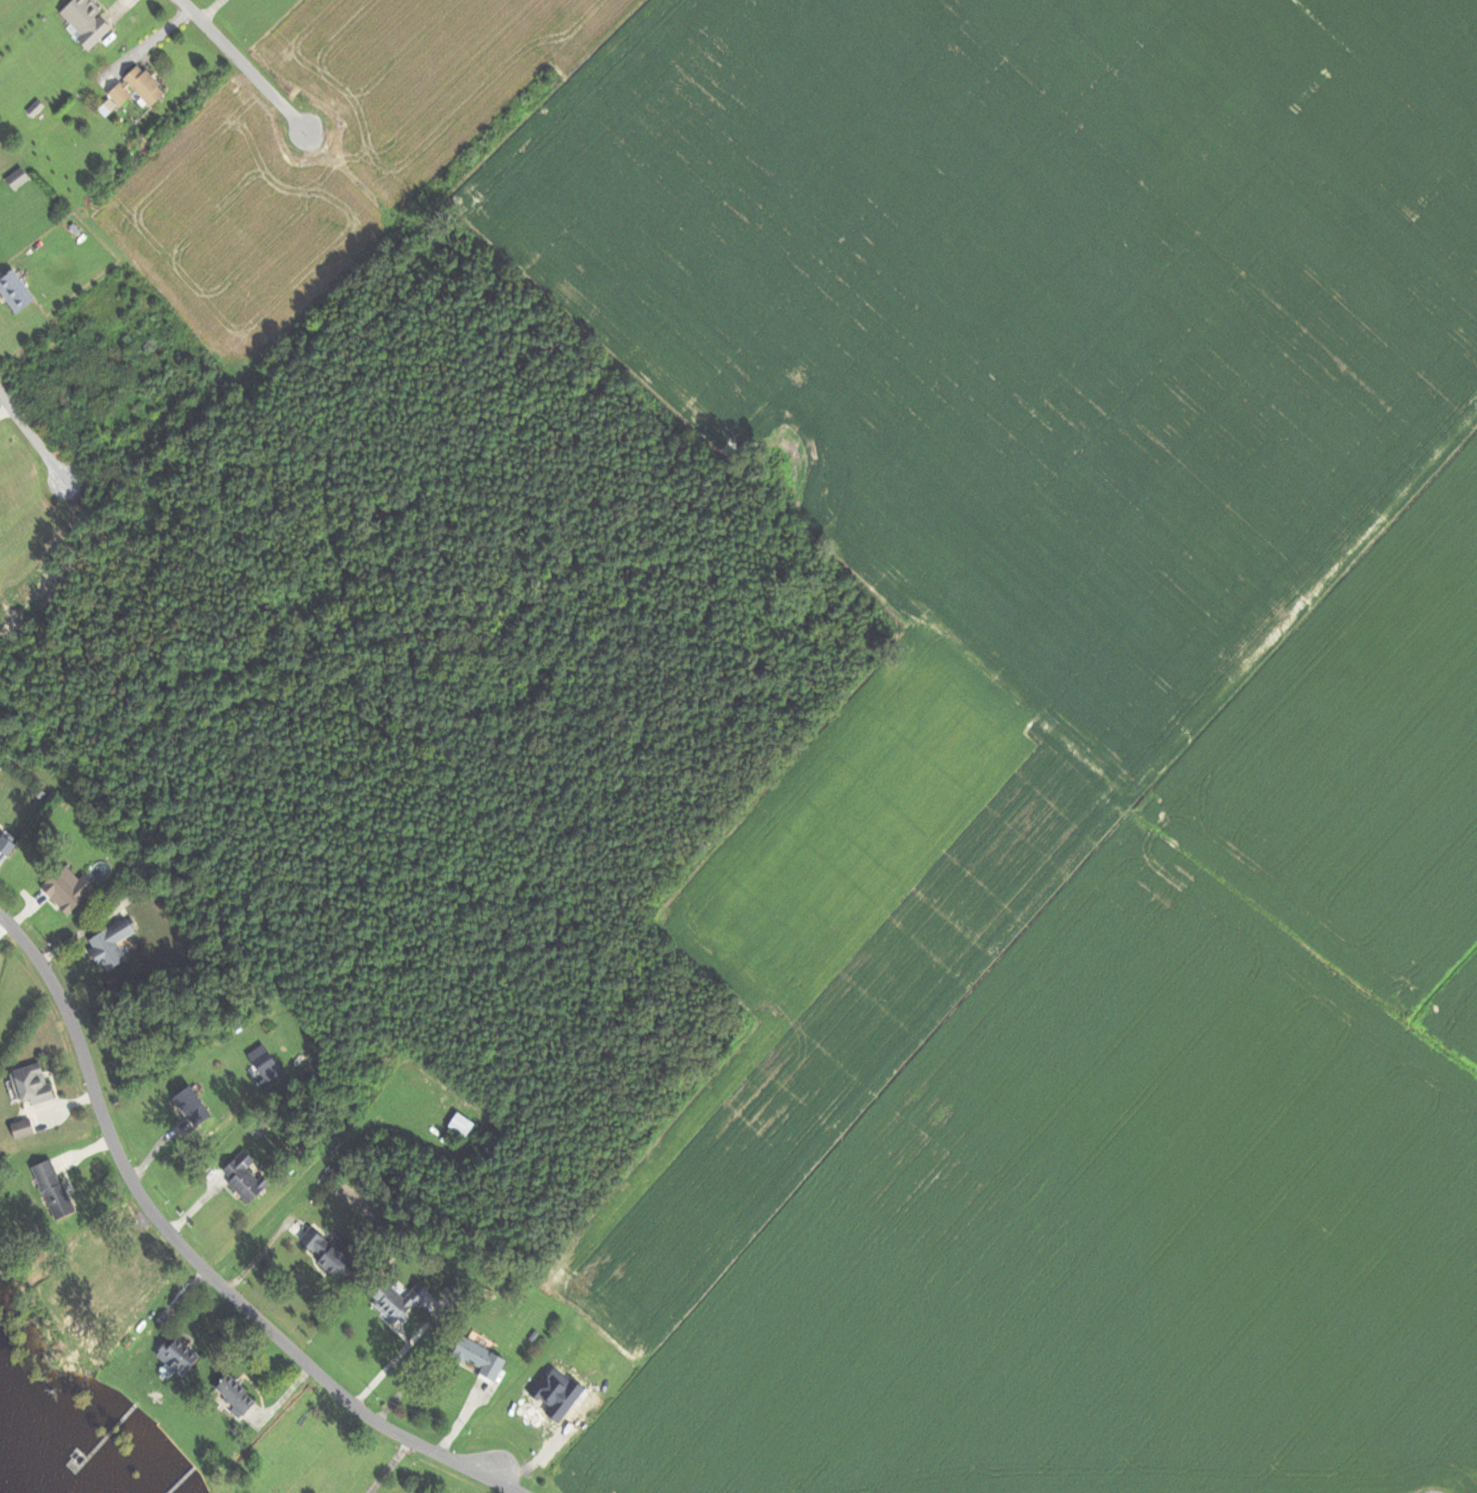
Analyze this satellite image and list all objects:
building: (83, 22)
road: (243, 65)
building: (133, 87)
building: (14, 178)
building: (13, 291)
road: (41, 440)
building: (4, 846)
building: (63, 888)
building: (109, 942)
building: (28, 1083)
building: (182, 1099)
building: (457, 1125)
building: (19, 1128)
building: (241, 1175)
building: (49, 1188)
building: (320, 1251)
road: (261, 1255)
road: (201, 1264)
building: (394, 1301)
building: (173, 1355)
building: (474, 1358)
building: (230, 1394)
road: (391, 1466)
road: (511, 1492)

